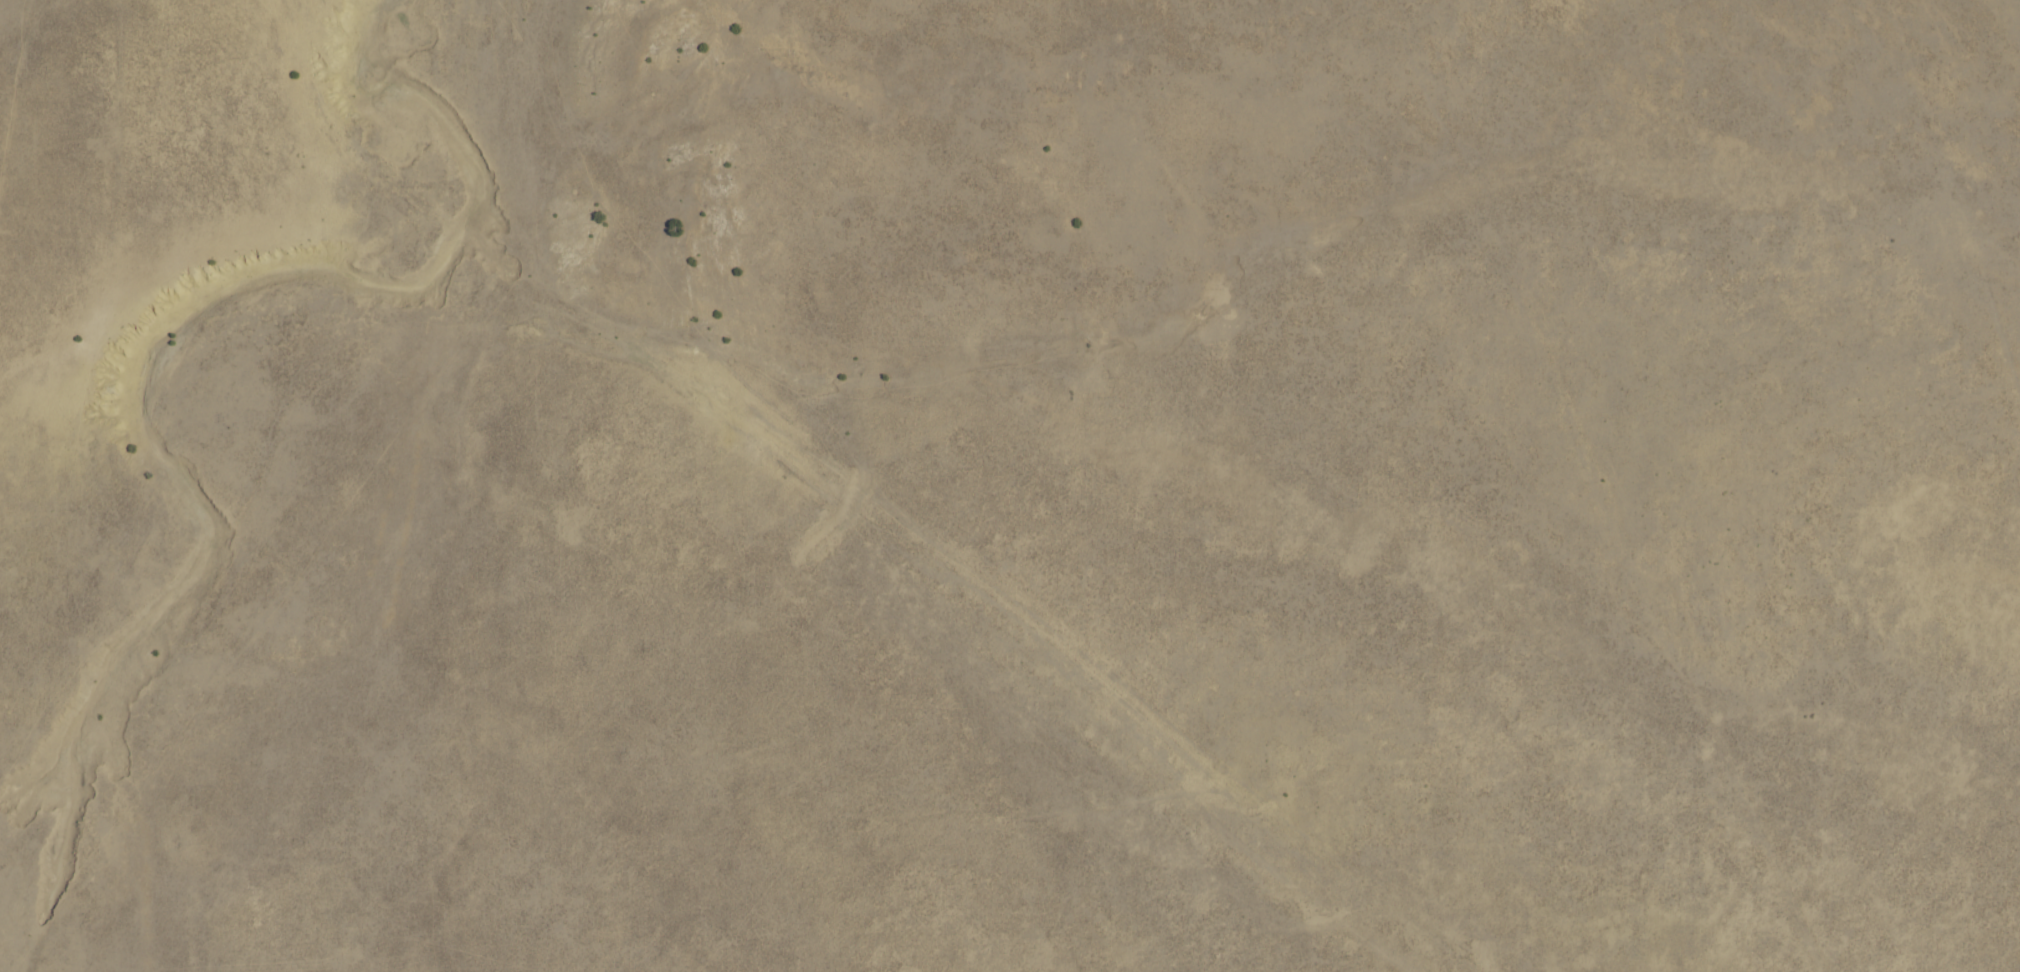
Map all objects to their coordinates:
road: (193, 847)

